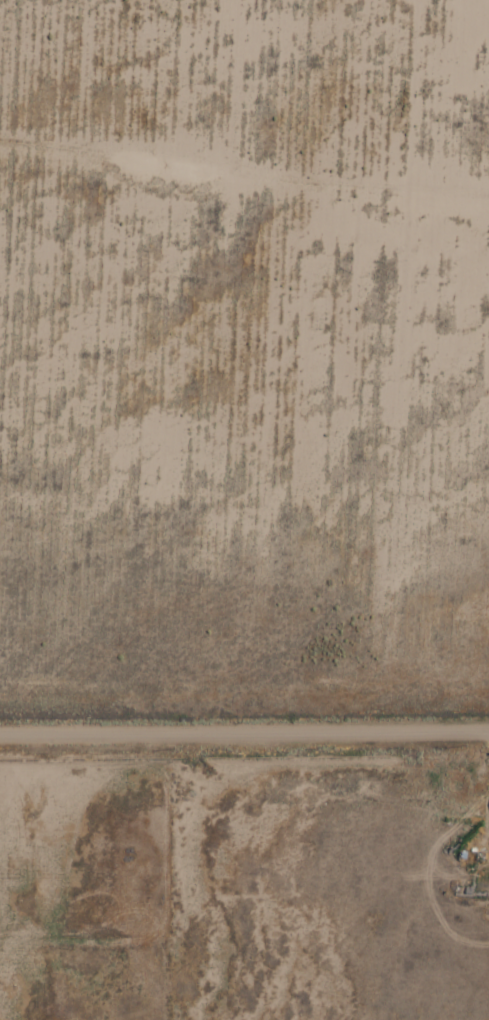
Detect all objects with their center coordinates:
road: (244, 726)

